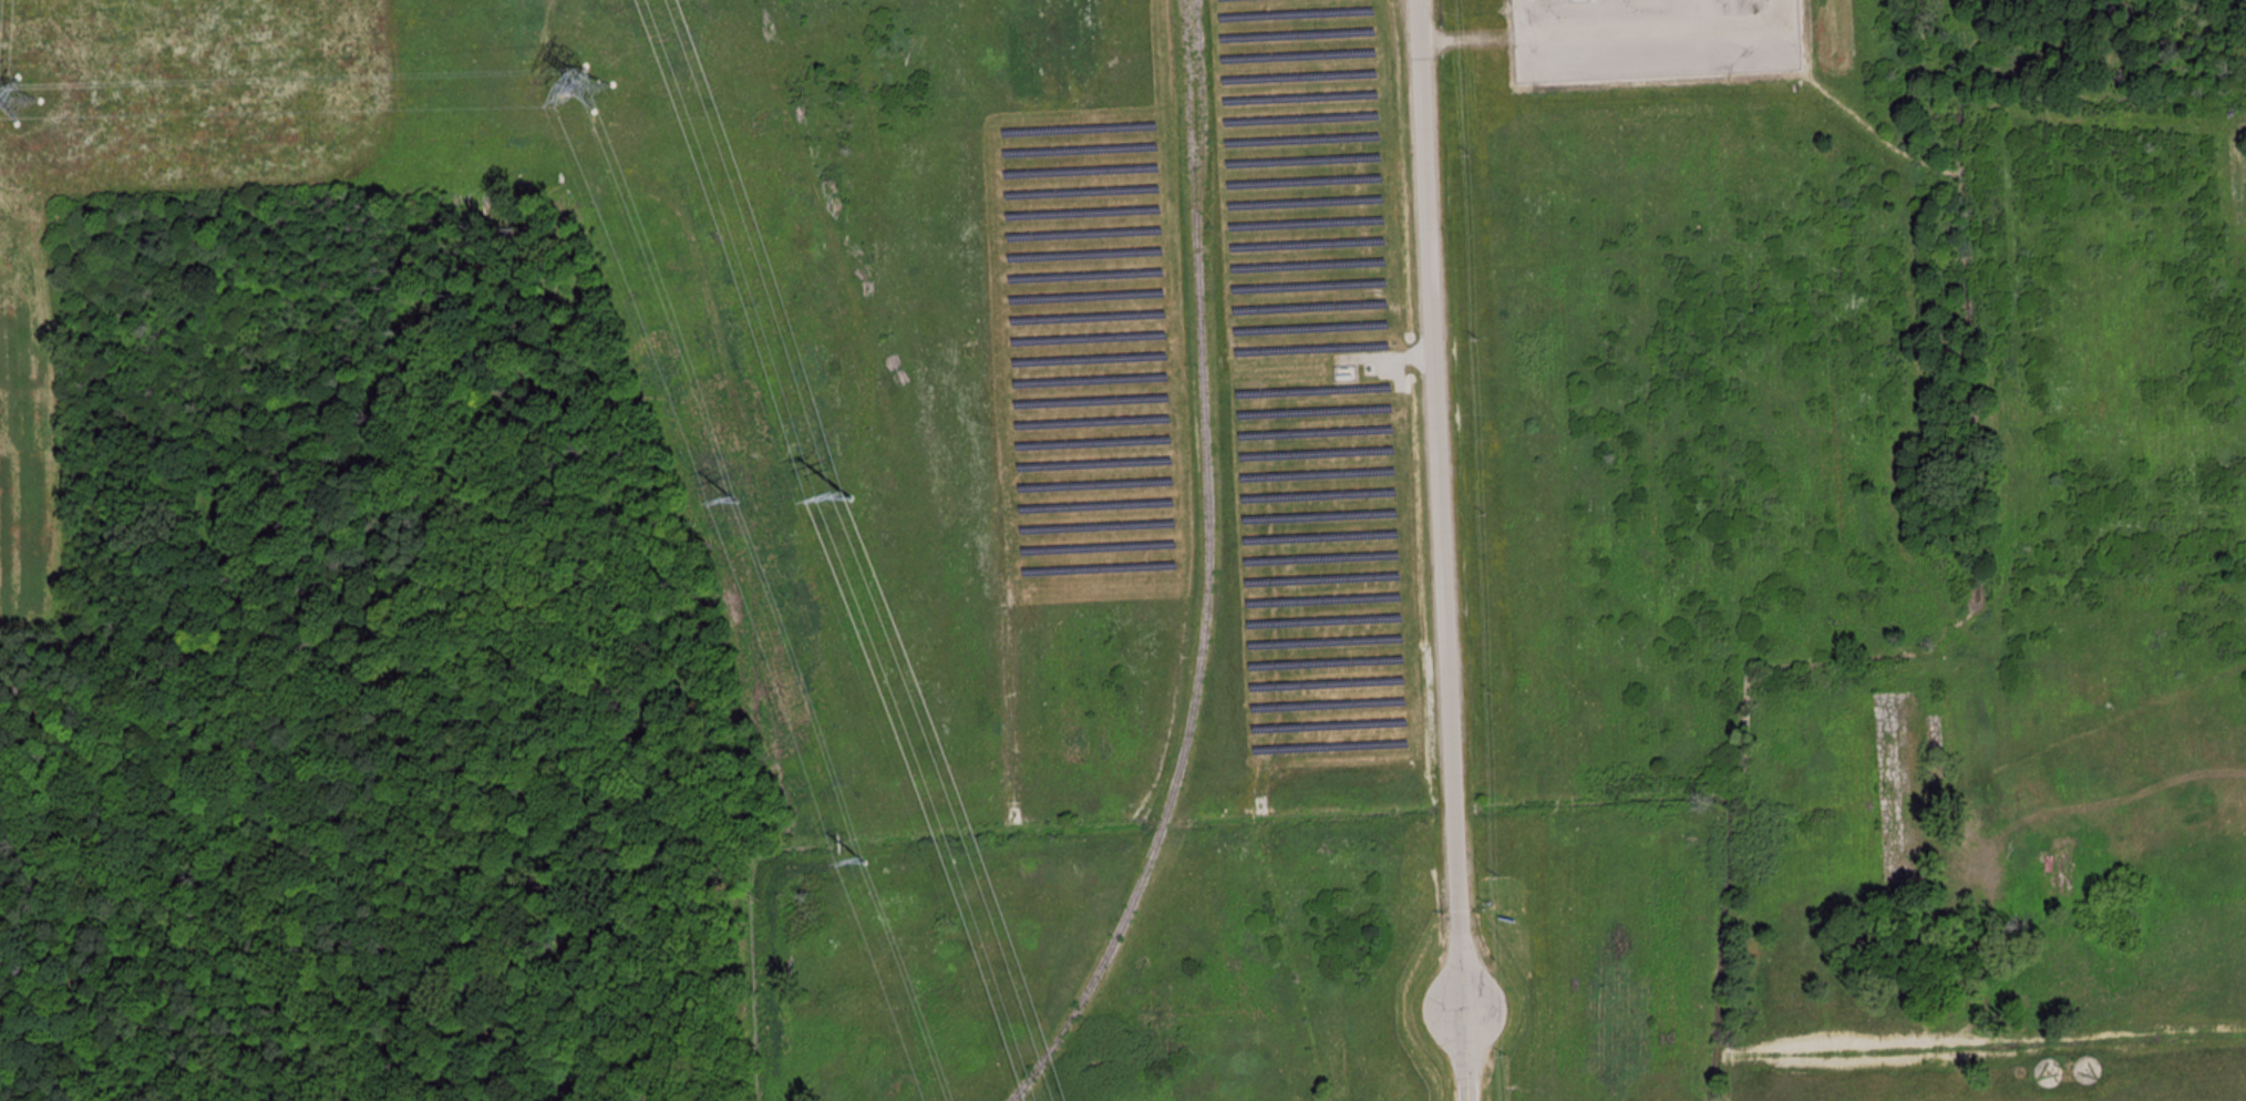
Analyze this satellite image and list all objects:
power plant: (1652, 38)
power tower: (589, 86)
power tower: (24, 100)
power tower: (851, 500)
power tower: (738, 504)
road: (1442, 550)
railway: (1202, 573)
power tower: (865, 862)
road: (1918, 1073)

